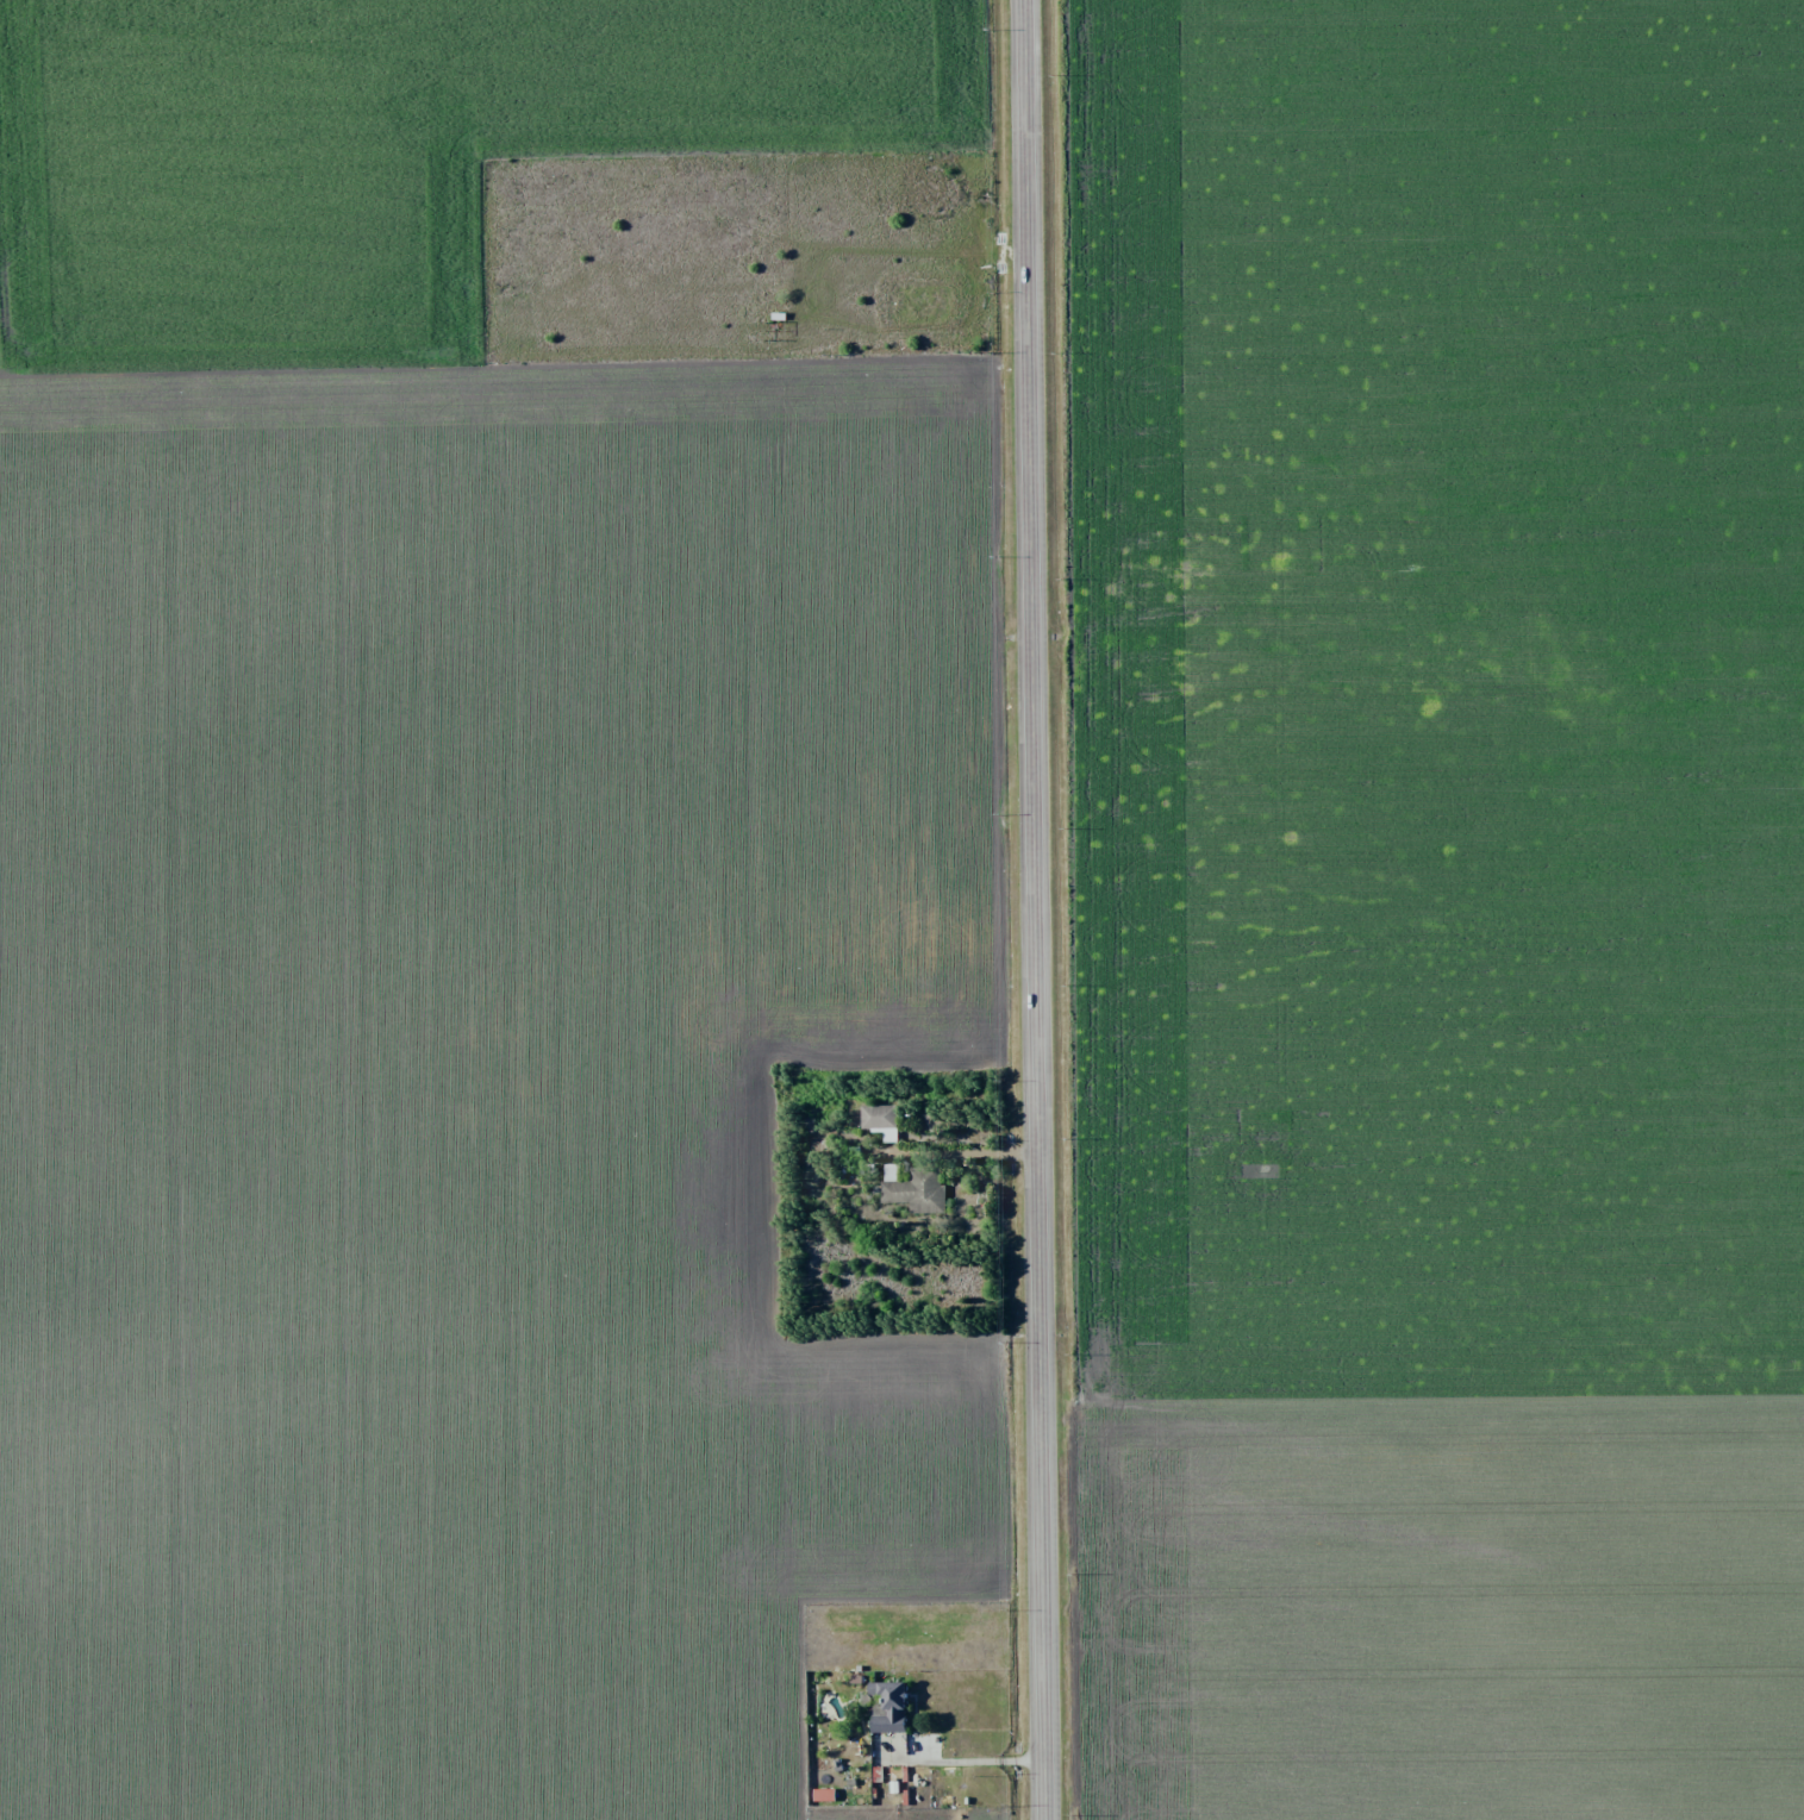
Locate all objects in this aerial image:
road: (1043, 909)
building: (876, 1117)
building: (913, 1188)
road: (907, 1650)
building: (886, 1708)

